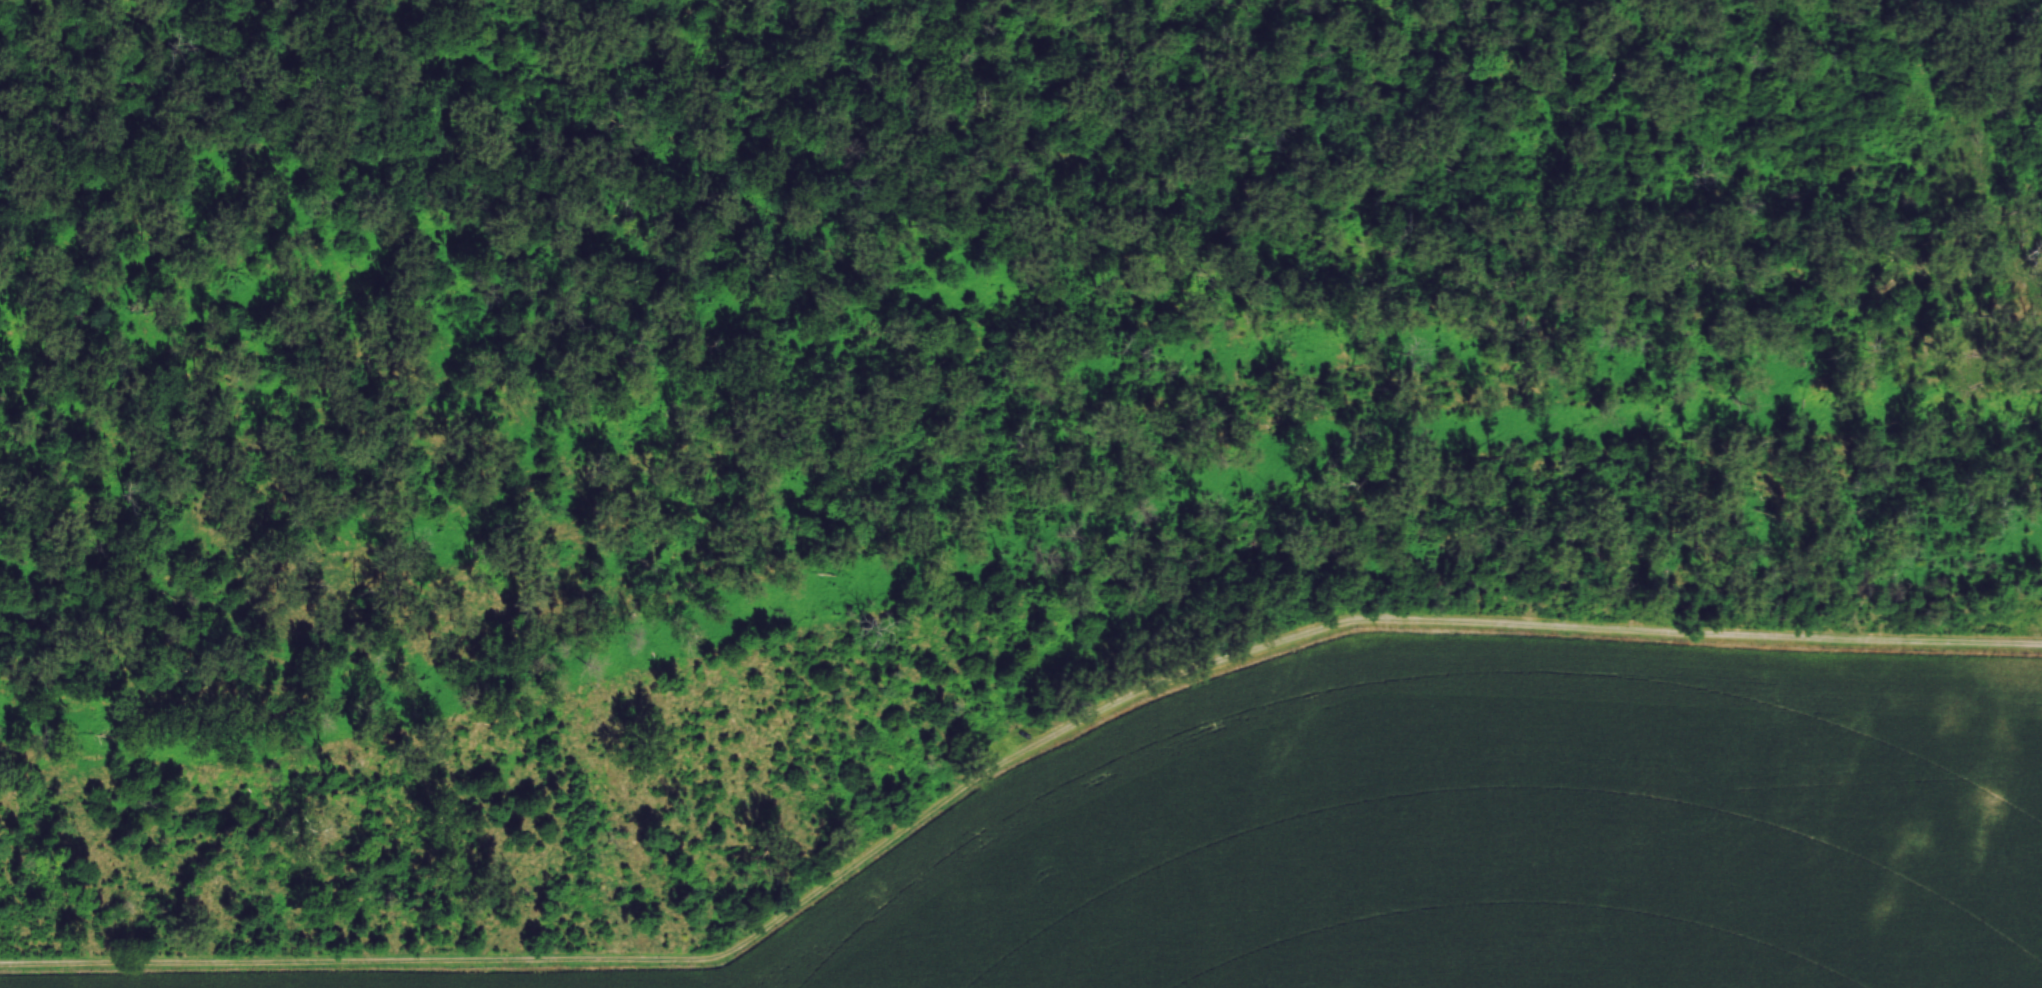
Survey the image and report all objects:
road: (1006, 758)
crop: (1441, 836)

